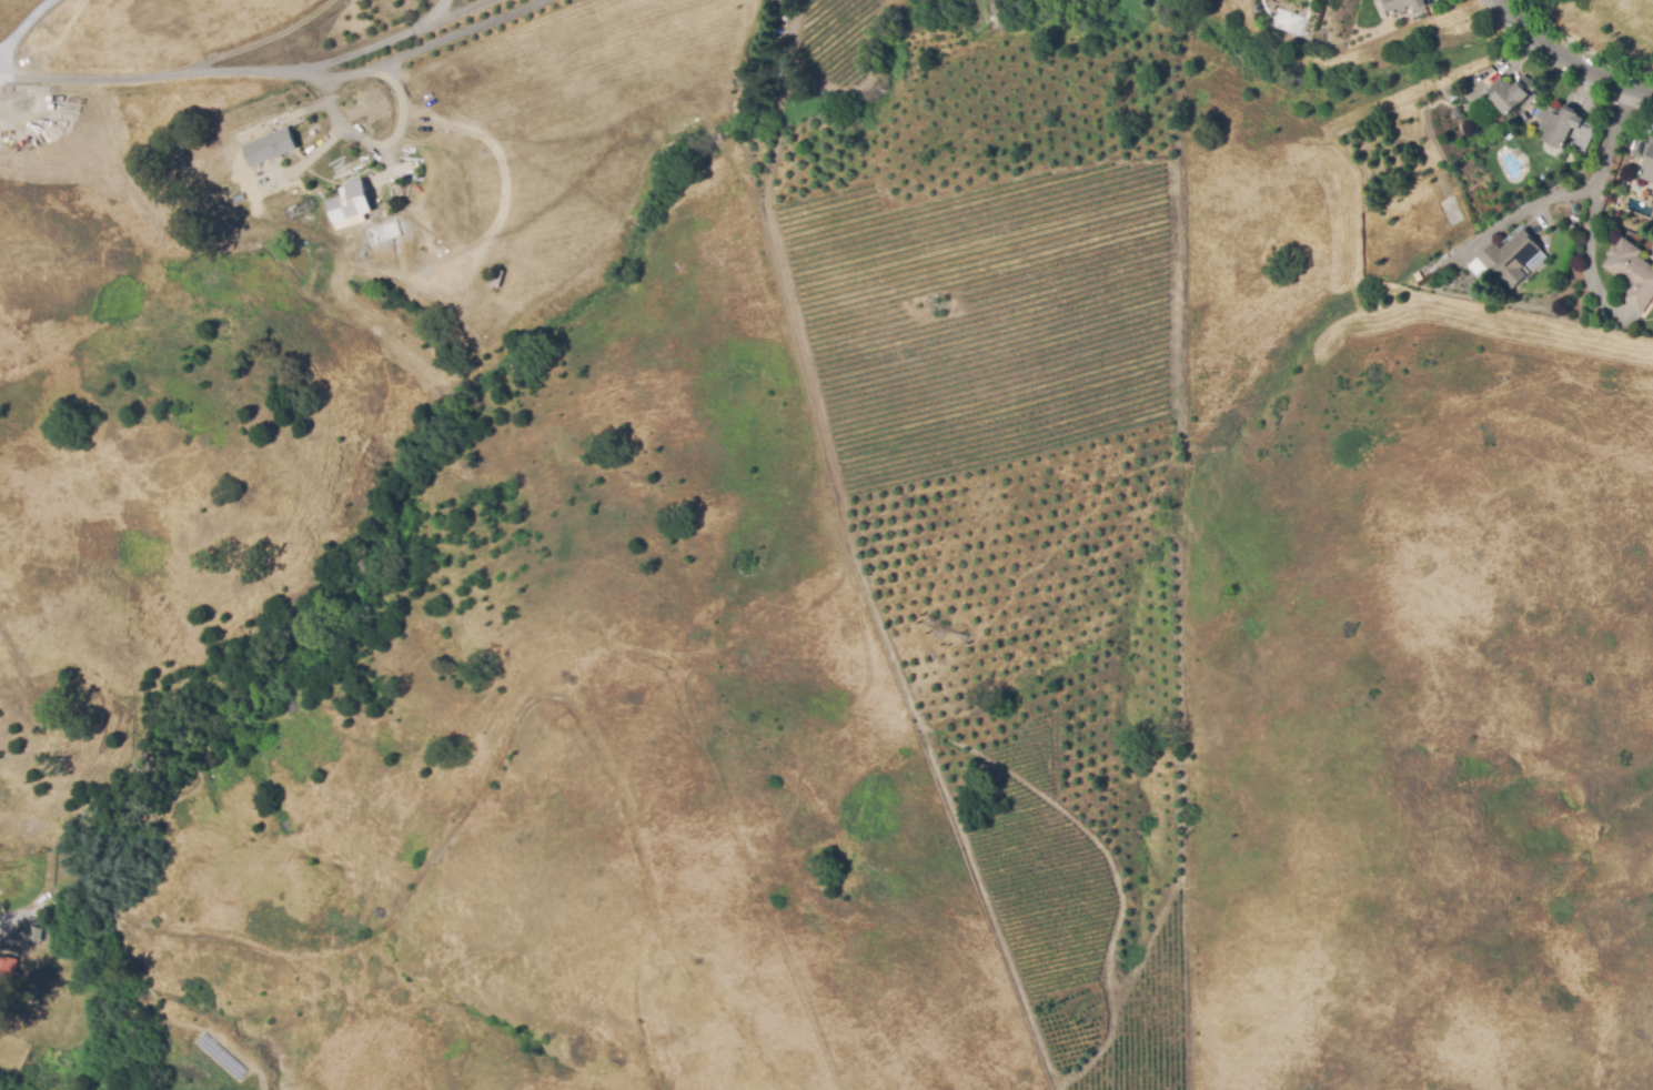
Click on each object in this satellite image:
building: (1405, 4)
road: (443, 7)
road: (455, 7)
park: (1601, 29)
road: (26, 30)
road: (367, 42)
road: (1568, 61)
road: (279, 71)
building: (1511, 92)
road: (314, 108)
building: (1539, 113)
building: (1520, 120)
road: (1617, 122)
building: (1566, 128)
road: (332, 137)
building: (269, 148)
road: (364, 148)
building: (1561, 154)
building: (1649, 163)
building: (236, 195)
building: (350, 204)
road: (1588, 239)
building: (1511, 258)
building: (502, 266)
building: (1632, 274)
building: (43, 914)
building: (36, 933)
building: (7, 977)

